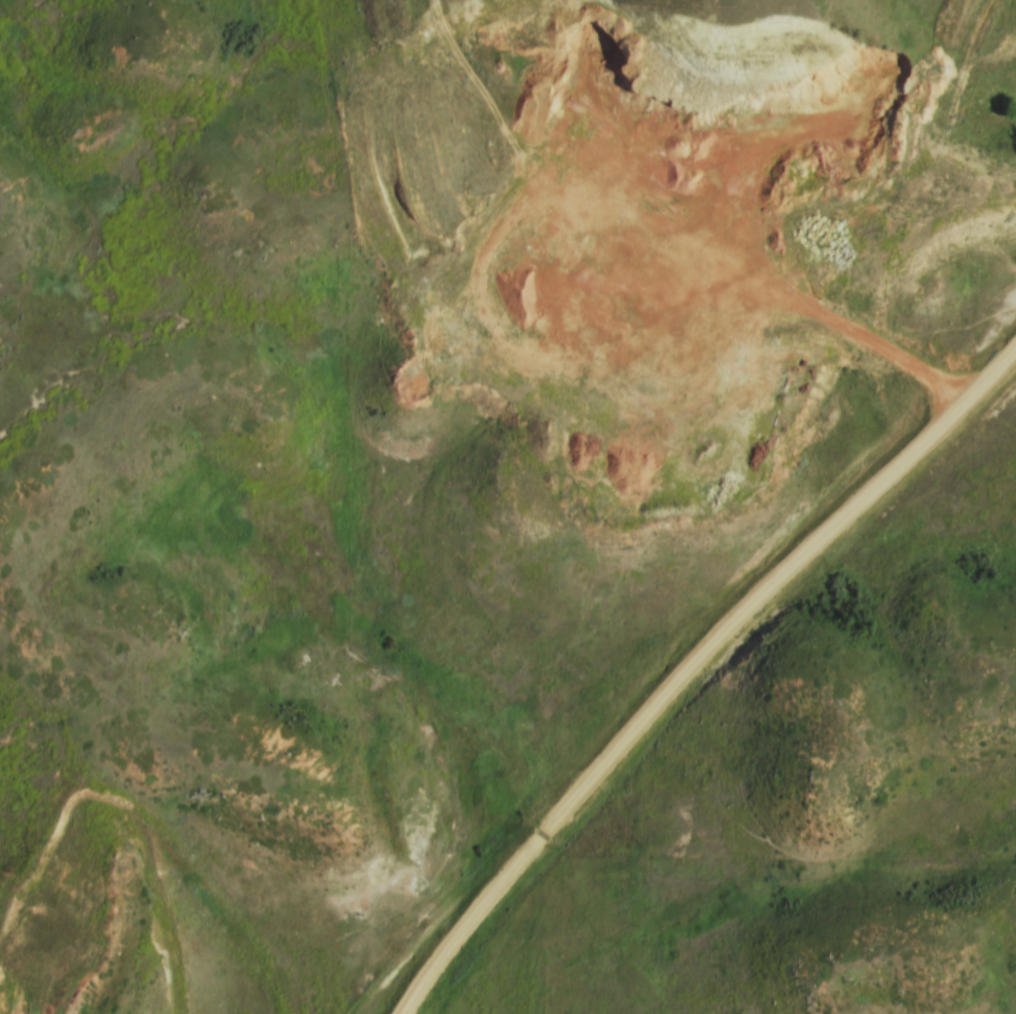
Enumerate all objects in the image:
road: (935, 171)
quarry: (659, 263)
road: (797, 309)
road: (687, 663)
road: (159, 906)
quarry: (65, 908)

